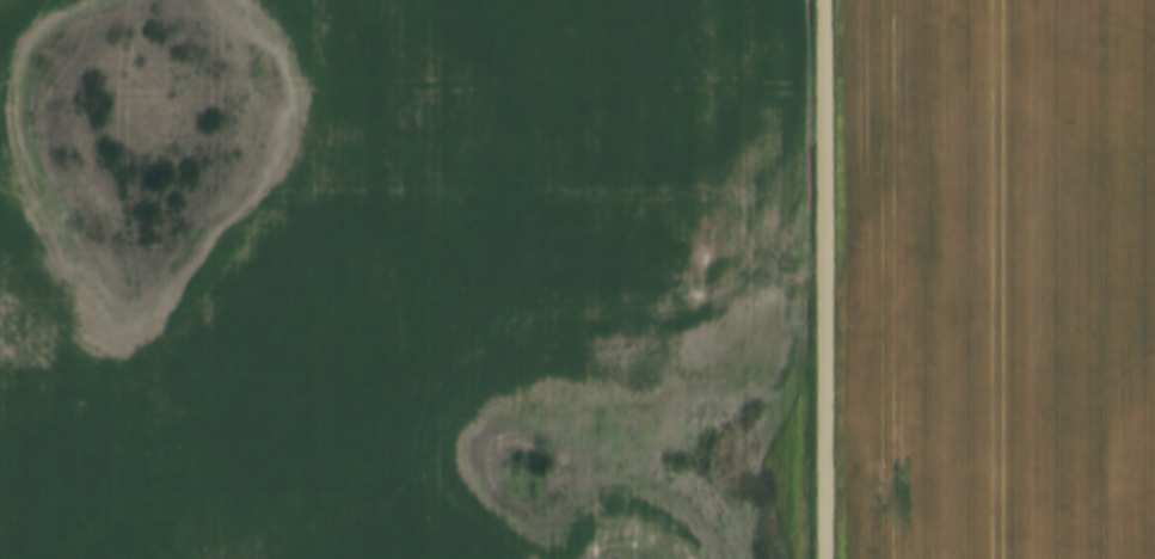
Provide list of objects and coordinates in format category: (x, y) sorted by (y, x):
road: (823, 278)

